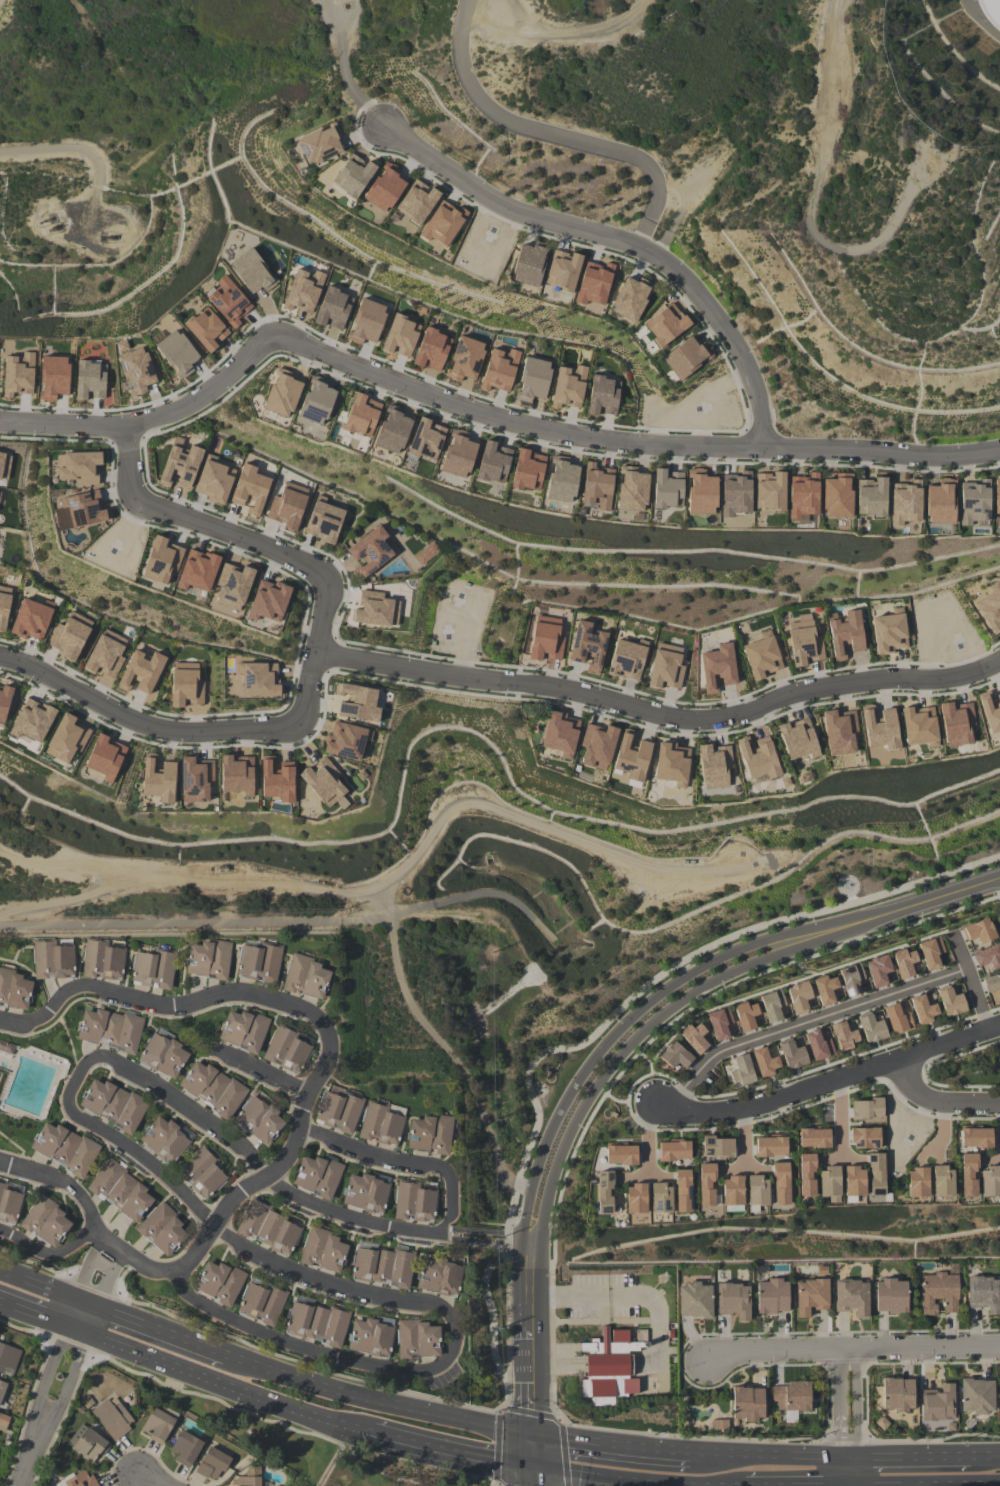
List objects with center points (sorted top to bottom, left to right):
building: (987, 14)
storage tank: (987, 14)
road: (582, 35)
road: (348, 68)
road: (552, 133)
building: (319, 145)
road: (70, 147)
building: (352, 175)
building: (384, 188)
building: (416, 201)
petroleum well: (45, 220)
building: (442, 223)
petroleum well: (54, 226)
road: (820, 228)
petroleum well: (110, 237)
road: (625, 241)
building: (528, 264)
building: (562, 270)
building: (252, 272)
building: (593, 283)
building: (305, 289)
building: (629, 299)
building: (228, 301)
building: (333, 308)
building: (365, 321)
building: (665, 324)
building: (206, 328)
building: (400, 336)
building: (431, 349)
building: (177, 352)
building: (464, 358)
building: (684, 358)
building: (134, 367)
building: (499, 369)
building: (18, 374)
building: (53, 377)
building: (532, 379)
building: (89, 380)
building: (568, 387)
building: (282, 393)
building: (603, 396)
building: (318, 399)
building: (361, 415)
road: (546, 429)
building: (392, 431)
building: (425, 439)
building: (457, 454)
building: (493, 462)
building: (179, 463)
building: (4, 465)
building: (78, 467)
building: (527, 470)
building: (214, 480)
building: (561, 481)
building: (596, 486)
building: (249, 489)
building: (631, 489)
building: (667, 489)
building: (769, 491)
building: (0, 492)
building: (700, 492)
building: (735, 494)
building: (802, 496)
building: (837, 496)
building: (996, 496)
building: (871, 497)
building: (905, 502)
building: (940, 502)
building: (973, 502)
building: (287, 505)
building: (81, 508)
building: (323, 520)
building: (369, 551)
building: (426, 553)
building: (160, 560)
building: (197, 570)
building: (232, 586)
building: (268, 601)
road: (325, 601)
building: (4, 606)
building: (990, 607)
building: (375, 609)
building: (30, 620)
building: (889, 632)
building: (844, 633)
building: (70, 635)
building: (545, 638)
building: (803, 641)
building: (587, 646)
building: (105, 654)
building: (761, 656)
building: (627, 658)
building: (665, 667)
building: (717, 667)
building: (141, 671)
building: (185, 684)
building: (4, 702)
building: (357, 702)
building: (990, 712)
road: (660, 715)
building: (31, 721)
building: (956, 723)
building: (919, 726)
building: (880, 728)
building: (839, 732)
building: (559, 733)
building: (66, 738)
building: (797, 739)
building: (346, 740)
building: (597, 746)
building: (105, 757)
building: (630, 757)
building: (758, 758)
building: (671, 763)
building: (714, 766)
building: (236, 774)
building: (195, 779)
building: (158, 780)
building: (277, 781)
building: (324, 783)
petroleum well: (223, 866)
road: (913, 905)
road: (276, 923)
building: (980, 931)
building: (931, 952)
building: (988, 957)
building: (208, 959)
building: (52, 960)
building: (102, 960)
building: (258, 963)
building: (904, 963)
building: (153, 969)
building: (878, 970)
building: (305, 977)
building: (851, 979)
road: (972, 983)
building: (992, 984)
building: (13, 989)
building: (825, 989)
building: (798, 996)
building: (950, 1001)
building: (772, 1005)
road: (169, 1006)
road: (995, 1008)
building: (923, 1009)
road: (981, 1012)
building: (746, 1015)
building: (897, 1019)
road: (805, 1020)
road: (624, 1023)
building: (719, 1023)
building: (731, 1028)
building: (871, 1028)
building: (110, 1030)
building: (242, 1030)
building: (844, 1035)
road: (639, 1036)
building: (695, 1037)
building: (818, 1045)
building: (6, 1047)
road: (572, 1048)
road: (641, 1049)
building: (286, 1050)
building: (162, 1055)
building: (792, 1055)
building: (675, 1056)
road: (647, 1061)
building: (764, 1062)
road: (834, 1062)
road: (924, 1070)
building: (741, 1071)
road: (261, 1072)
road: (903, 1074)
road: (639, 1078)
road: (826, 1082)
building: (212, 1088)
road: (683, 1089)
road: (892, 1089)
road: (839, 1093)
road: (615, 1100)
road: (938, 1101)
building: (113, 1104)
road: (791, 1109)
building: (866, 1109)
building: (339, 1110)
road: (942, 1117)
road: (841, 1118)
road: (972, 1118)
road: (997, 1118)
building: (259, 1120)
road: (743, 1122)
road: (641, 1124)
building: (380, 1125)
road: (942, 1126)
road: (695, 1128)
building: (429, 1134)
road: (647, 1138)
building: (813, 1138)
building: (864, 1138)
building: (975, 1138)
building: (164, 1139)
road: (743, 1140)
building: (770, 1146)
building: (717, 1147)
building: (64, 1148)
building: (673, 1151)
building: (620, 1154)
road: (252, 1162)
road: (405, 1164)
road: (277, 1171)
building: (202, 1174)
building: (806, 1174)
building: (875, 1174)
building: (967, 1174)
building: (317, 1176)
building: (828, 1181)
building: (853, 1181)
building: (941, 1181)
building: (989, 1181)
building: (916, 1182)
building: (705, 1183)
building: (780, 1183)
road: (65, 1185)
building: (120, 1190)
building: (682, 1190)
building: (732, 1190)
building: (757, 1190)
building: (366, 1192)
building: (603, 1192)
building: (635, 1198)
building: (660, 1198)
building: (413, 1202)
building: (9, 1205)
building: (45, 1221)
building: (161, 1228)
building: (268, 1228)
road: (493, 1237)
road: (95, 1247)
building: (322, 1250)
road: (48, 1253)
road: (252, 1253)
road: (118, 1260)
road: (140, 1260)
road: (101, 1264)
building: (382, 1266)
road: (83, 1277)
building: (438, 1277)
road: (533, 1277)
building: (219, 1282)
road: (47, 1286)
road: (103, 1286)
building: (938, 1292)
building: (983, 1294)
building: (890, 1295)
building: (771, 1296)
building: (810, 1296)
building: (851, 1297)
road: (570, 1299)
building: (732, 1300)
building: (694, 1301)
building: (261, 1303)
road: (71, 1311)
road: (42, 1316)
road: (90, 1317)
building: (316, 1323)
road: (160, 1328)
building: (370, 1337)
building: (417, 1339)
road: (295, 1346)
road: (850, 1353)
building: (8, 1357)
road: (647, 1363)
building: (607, 1368)
road: (199, 1373)
road: (50, 1375)
road: (70, 1382)
road: (533, 1386)
building: (2, 1388)
building: (999, 1390)
building: (897, 1394)
building: (791, 1396)
building: (976, 1396)
road: (377, 1403)
building: (747, 1403)
building: (937, 1403)
building: (112, 1417)
road: (848, 1420)
building: (3, 1422)
road: (336, 1422)
building: (157, 1425)
traffic signals: (533, 1440)
building: (87, 1443)
road: (611, 1448)
building: (185, 1449)
road: (445, 1451)
road: (533, 1455)
road: (985, 1455)
road: (33, 1456)
road: (909, 1457)
road: (768, 1458)
traffic signals: (848, 1459)
building: (212, 1463)
traffic signals: (533, 1471)
building: (249, 1477)
road: (533, 1478)
building: (80, 1479)
road: (637, 1480)
road: (147, 1481)
road: (795, 1485)
traffic signals: (847, 1485)
road: (923, 1485)

